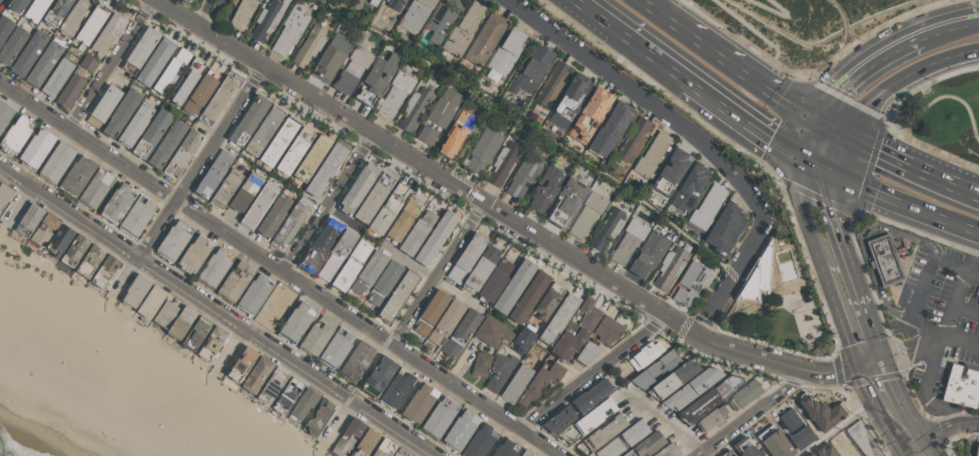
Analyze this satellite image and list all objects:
road: (0, 0)
building: (194, 0)
building: (197, 0)
building: (373, 2)
building: (457, 3)
building: (395, 4)
building: (18, 5)
building: (36, 9)
road: (591, 11)
building: (57, 12)
building: (242, 13)
road: (779, 13)
building: (415, 14)
road: (209, 15)
building: (73, 17)
road: (668, 17)
building: (267, 18)
building: (439, 22)
building: (91, 24)
road: (957, 25)
building: (5, 27)
road: (750, 27)
park: (811, 27)
building: (290, 29)
building: (463, 29)
road: (874, 30)
building: (107, 33)
building: (485, 38)
building: (12, 44)
building: (309, 45)
building: (140, 50)
road: (647, 51)
building: (506, 52)
building: (29, 53)
building: (331, 57)
building: (155, 60)
building: (44, 63)
building: (89, 63)
road: (109, 64)
road: (869, 66)
building: (171, 69)
building: (352, 69)
building: (532, 69)
road: (786, 69)
building: (57, 76)
road: (900, 76)
building: (376, 78)
road: (755, 79)
building: (187, 80)
building: (552, 83)
road: (927, 83)
building: (70, 90)
building: (201, 92)
building: (394, 94)
road: (942, 96)
road: (846, 97)
road: (644, 98)
building: (218, 100)
building: (568, 101)
building: (103, 105)
building: (444, 106)
building: (414, 108)
building: (5, 113)
building: (121, 113)
park: (945, 113)
building: (590, 114)
building: (249, 119)
road: (745, 123)
building: (135, 124)
traffic signals: (820, 124)
building: (264, 129)
road: (830, 129)
building: (610, 130)
building: (152, 132)
building: (457, 132)
building: (427, 134)
traffic signals: (841, 134)
building: (16, 135)
building: (279, 140)
building: (633, 140)
road: (813, 142)
building: (167, 143)
road: (731, 146)
building: (37, 148)
building: (483, 149)
road: (933, 149)
building: (295, 151)
road: (836, 152)
building: (182, 153)
road: (48, 155)
building: (651, 155)
building: (312, 157)
building: (57, 161)
traffic signals: (806, 161)
building: (503, 163)
building: (675, 164)
road: (909, 164)
road: (869, 165)
road: (818, 166)
building: (326, 169)
traffic signals: (831, 171)
building: (213, 174)
building: (524, 174)
building: (77, 175)
road: (188, 182)
building: (690, 186)
building: (358, 187)
building: (546, 187)
building: (96, 188)
building: (226, 188)
building: (245, 192)
building: (4, 194)
road: (815, 195)
building: (374, 197)
building: (566, 201)
building: (118, 202)
road: (904, 203)
road: (18, 204)
road: (329, 204)
building: (259, 205)
building: (707, 206)
building: (388, 208)
road: (804, 212)
building: (587, 214)
building: (137, 215)
building: (274, 215)
road: (508, 217)
road: (343, 218)
building: (29, 219)
building: (403, 220)
building: (291, 222)
building: (607, 228)
building: (725, 228)
building: (44, 229)
building: (417, 232)
building: (435, 238)
building: (60, 240)
building: (174, 240)
building: (628, 240)
road: (839, 240)
road: (862, 242)
building: (320, 244)
building: (75, 250)
building: (337, 253)
building: (194, 254)
building: (648, 254)
building: (467, 257)
building: (885, 259)
building: (90, 260)
building: (352, 265)
building: (215, 266)
building: (669, 266)
road: (279, 268)
building: (481, 268)
building: (105, 271)
building: (369, 271)
road: (437, 272)
road: (733, 274)
road: (431, 276)
building: (235, 281)
building: (495, 281)
building: (692, 281)
building: (384, 282)
building: (514, 286)
road: (961, 286)
building: (136, 290)
building: (254, 294)
building: (397, 295)
building: (529, 295)
road: (266, 300)
building: (548, 300)
building: (151, 301)
parking lot: (944, 307)
building: (276, 309)
road: (219, 310)
road: (967, 310)
building: (431, 311)
building: (166, 312)
road: (840, 313)
building: (588, 314)
building: (559, 318)
building: (446, 321)
building: (182, 322)
building: (296, 322)
road: (924, 327)
building: (607, 329)
road: (887, 329)
building: (196, 332)
building: (461, 332)
building: (491, 332)
road: (872, 333)
building: (317, 335)
building: (524, 337)
building: (569, 340)
road: (930, 342)
building: (212, 343)
building: (337, 346)
road: (233, 349)
building: (587, 352)
building: (645, 354)
traffic signals: (882, 358)
building: (357, 360)
building: (243, 363)
building: (481, 363)
traffic signals: (859, 365)
building: (656, 368)
road: (368, 369)
building: (500, 371)
road: (591, 373)
building: (258, 374)
building: (379, 375)
road: (890, 377)
building: (672, 379)
building: (541, 381)
road: (856, 381)
building: (516, 382)
building: (962, 384)
building: (272, 385)
building: (398, 388)
building: (692, 388)
building: (744, 394)
building: (287, 395)
building: (591, 395)
building: (710, 396)
road: (871, 401)
building: (419, 402)
building: (303, 404)
building: (822, 411)
road: (751, 413)
building: (594, 415)
building: (318, 416)
building: (439, 417)
building: (712, 418)
road: (334, 419)
building: (559, 419)
road: (913, 420)
road: (662, 422)
road: (836, 428)
building: (796, 429)
building: (460, 430)
road: (945, 430)
building: (605, 431)
building: (348, 436)
building: (859, 437)
road: (500, 438)
building: (623, 439)
building: (480, 441)
building: (775, 442)
building: (365, 443)
building: (646, 444)
road: (899, 445)
building: (746, 447)
building: (384, 448)
building: (506, 448)
road: (932, 449)
building: (977, 449)
building: (667, 450)
building: (826, 450)
building: (850, 451)
building: (400, 452)
building: (526, 452)
building: (729, 453)
road: (913, 453)
building: (812, 455)

